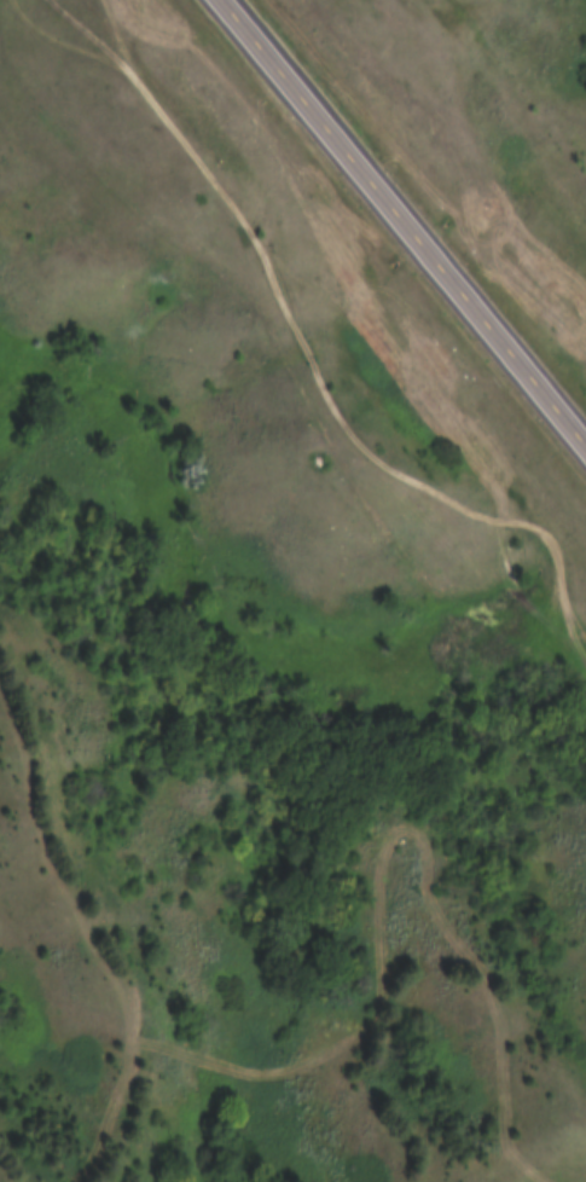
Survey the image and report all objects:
road: (411, 219)

